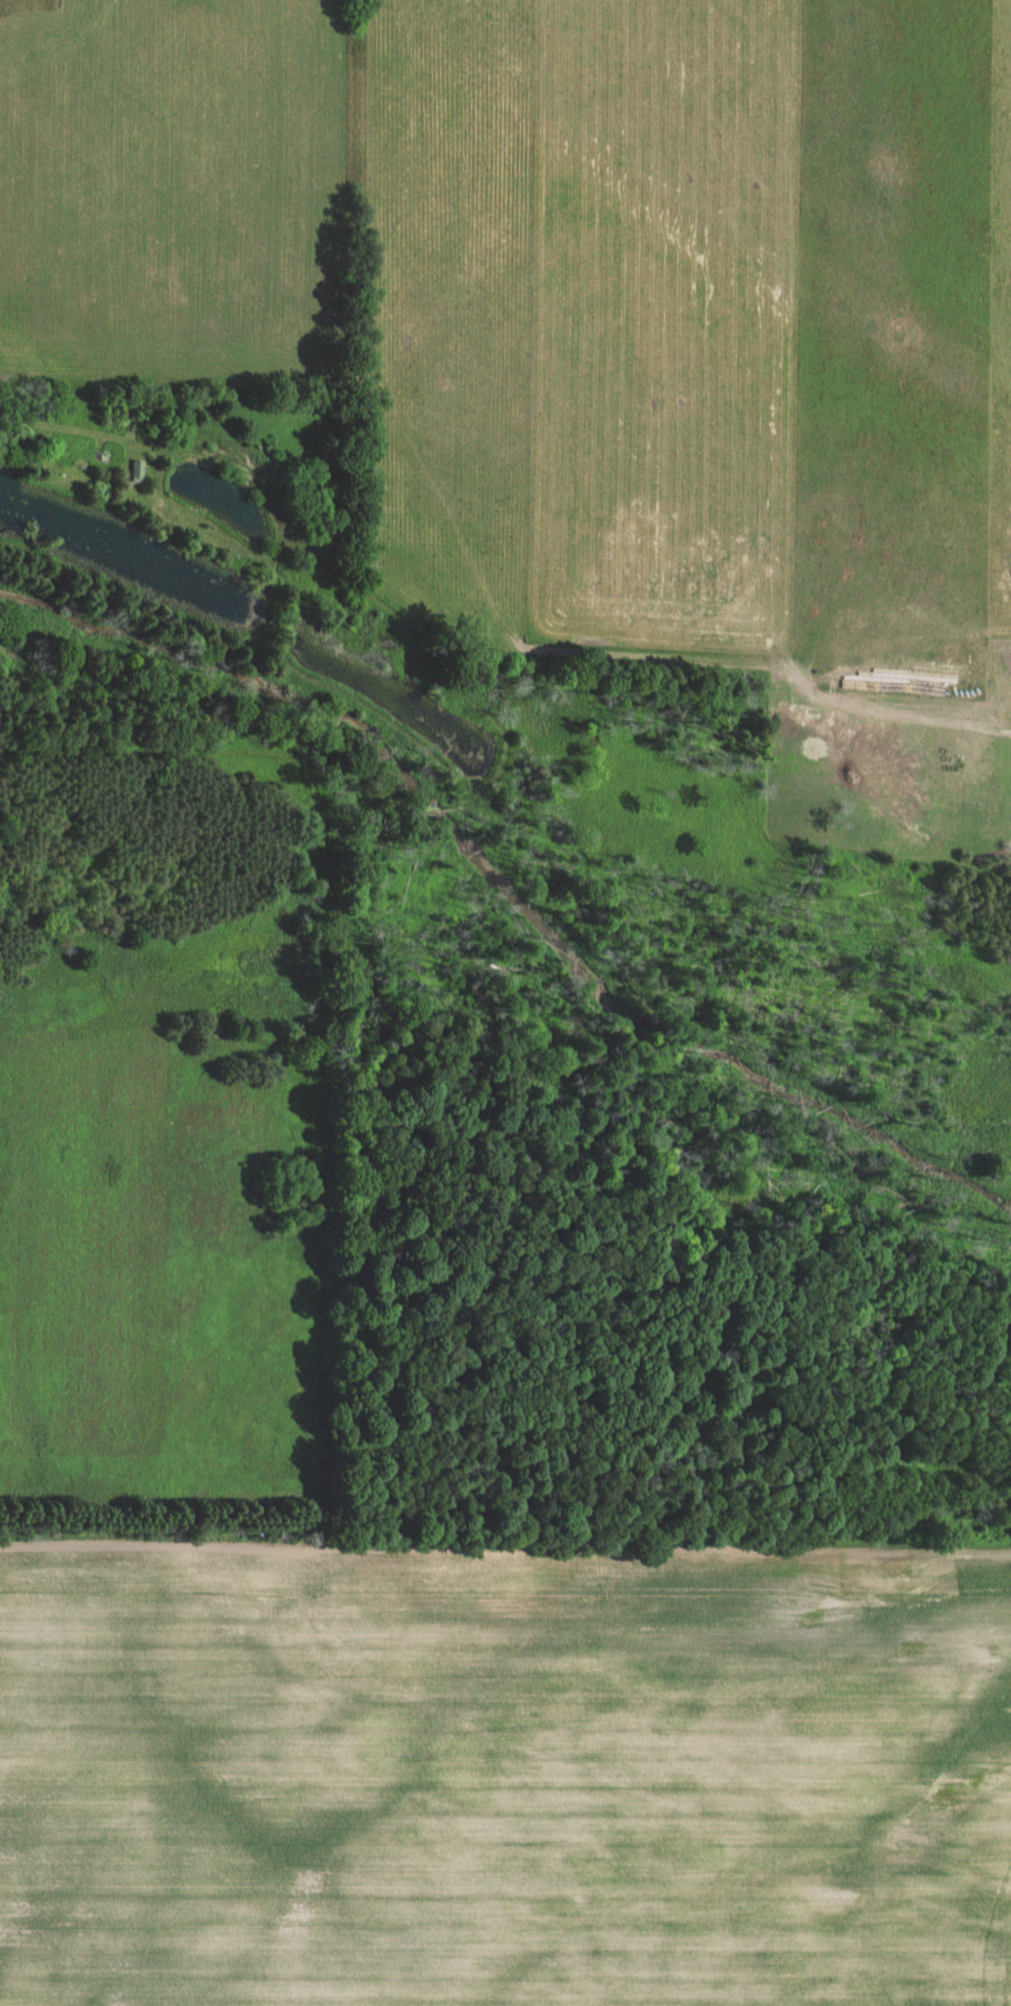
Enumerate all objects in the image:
building: (139, 470)

